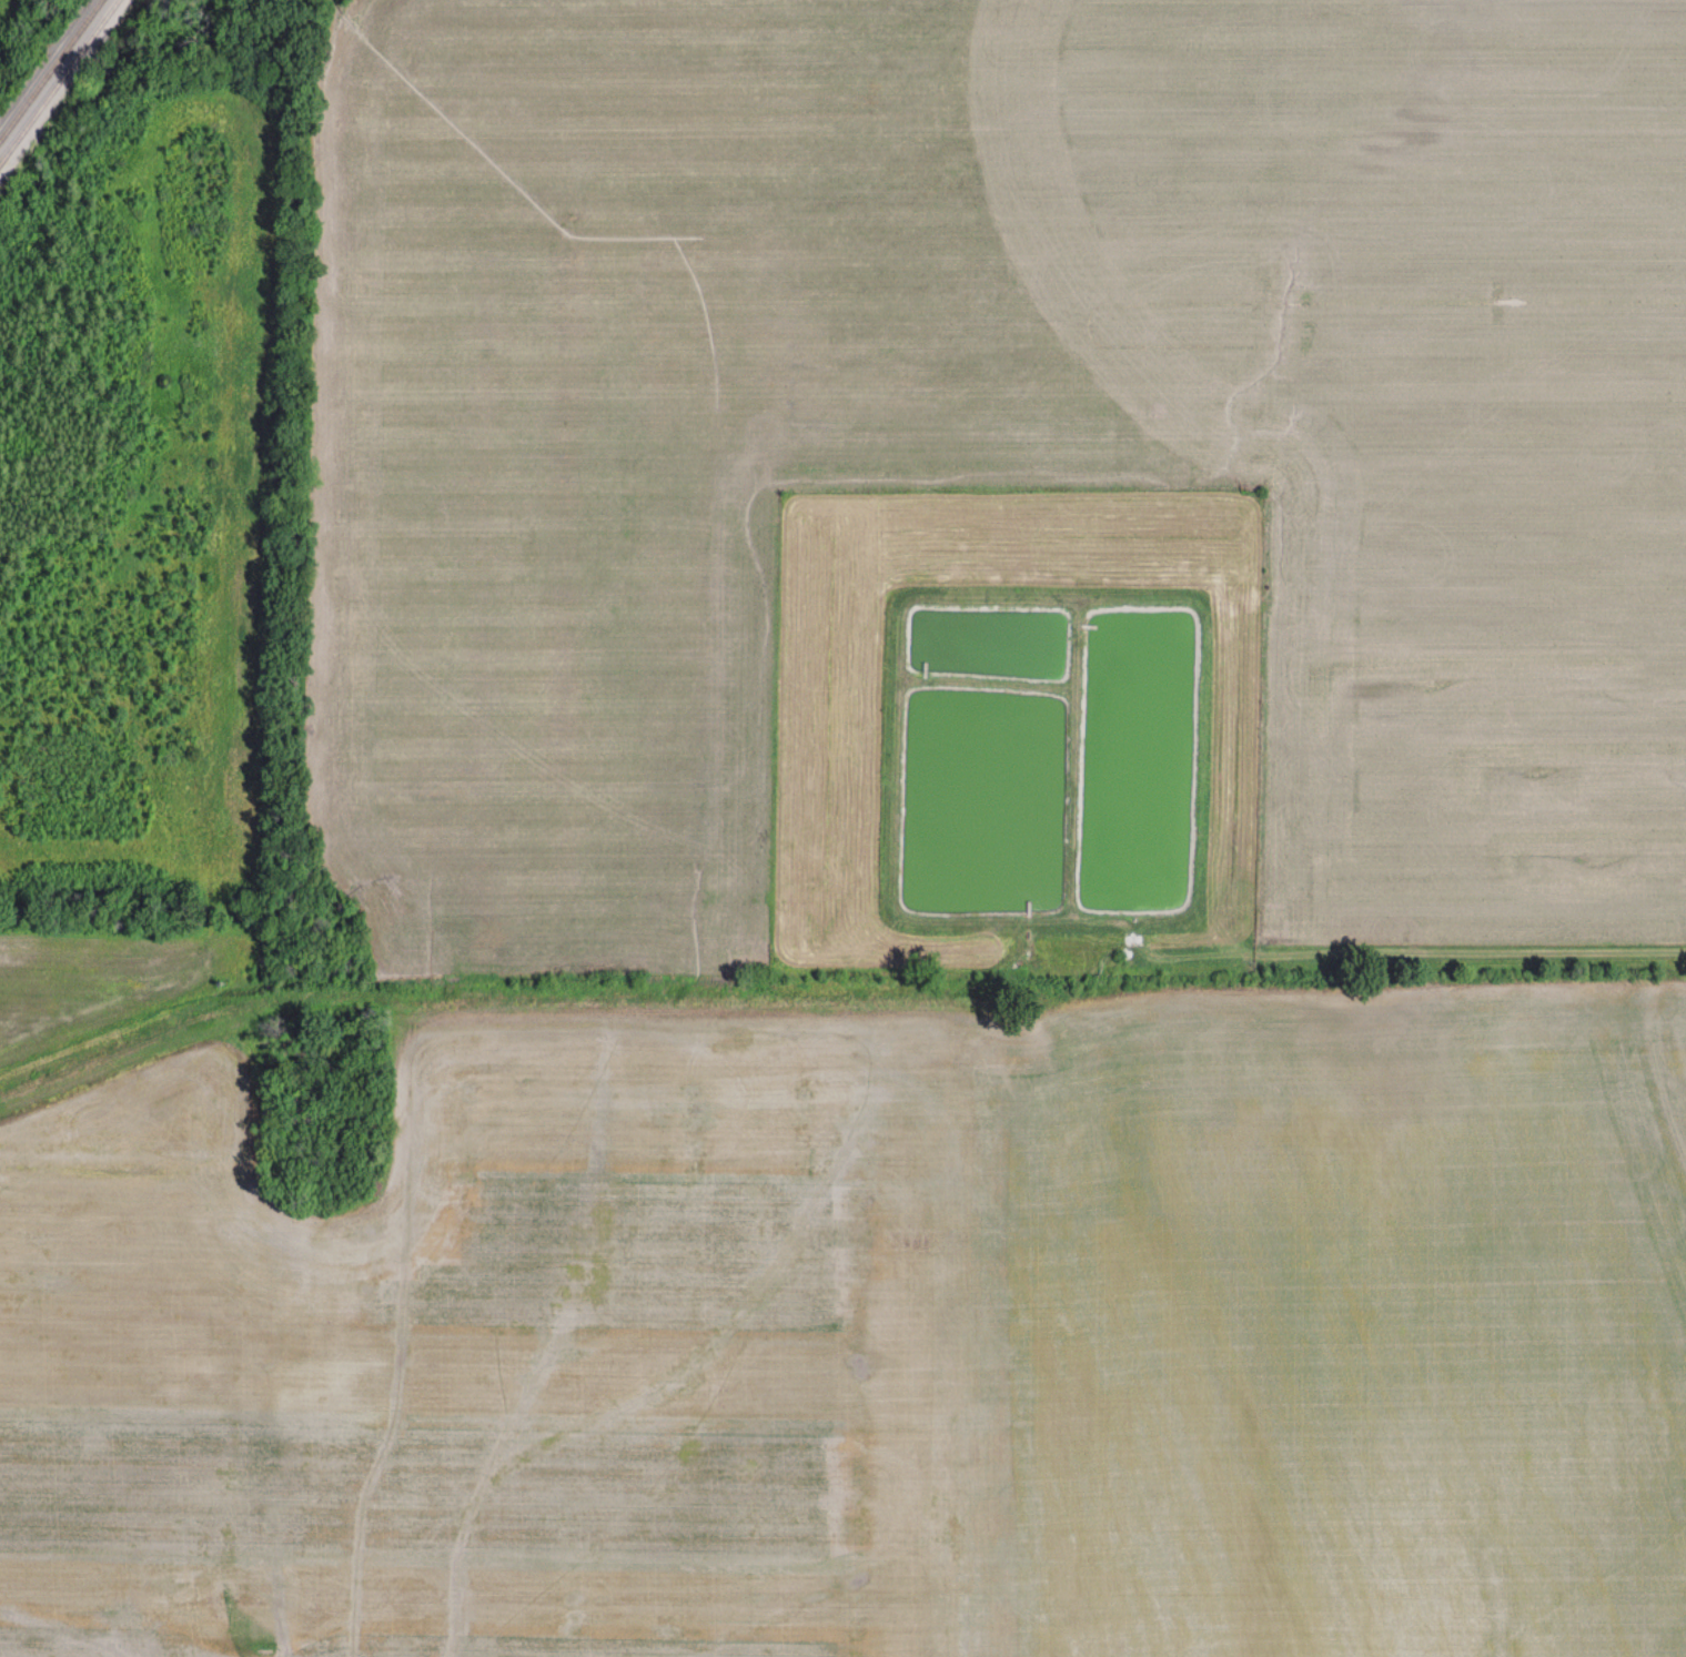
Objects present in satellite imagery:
railway: (50, 69)
railway: (58, 80)

